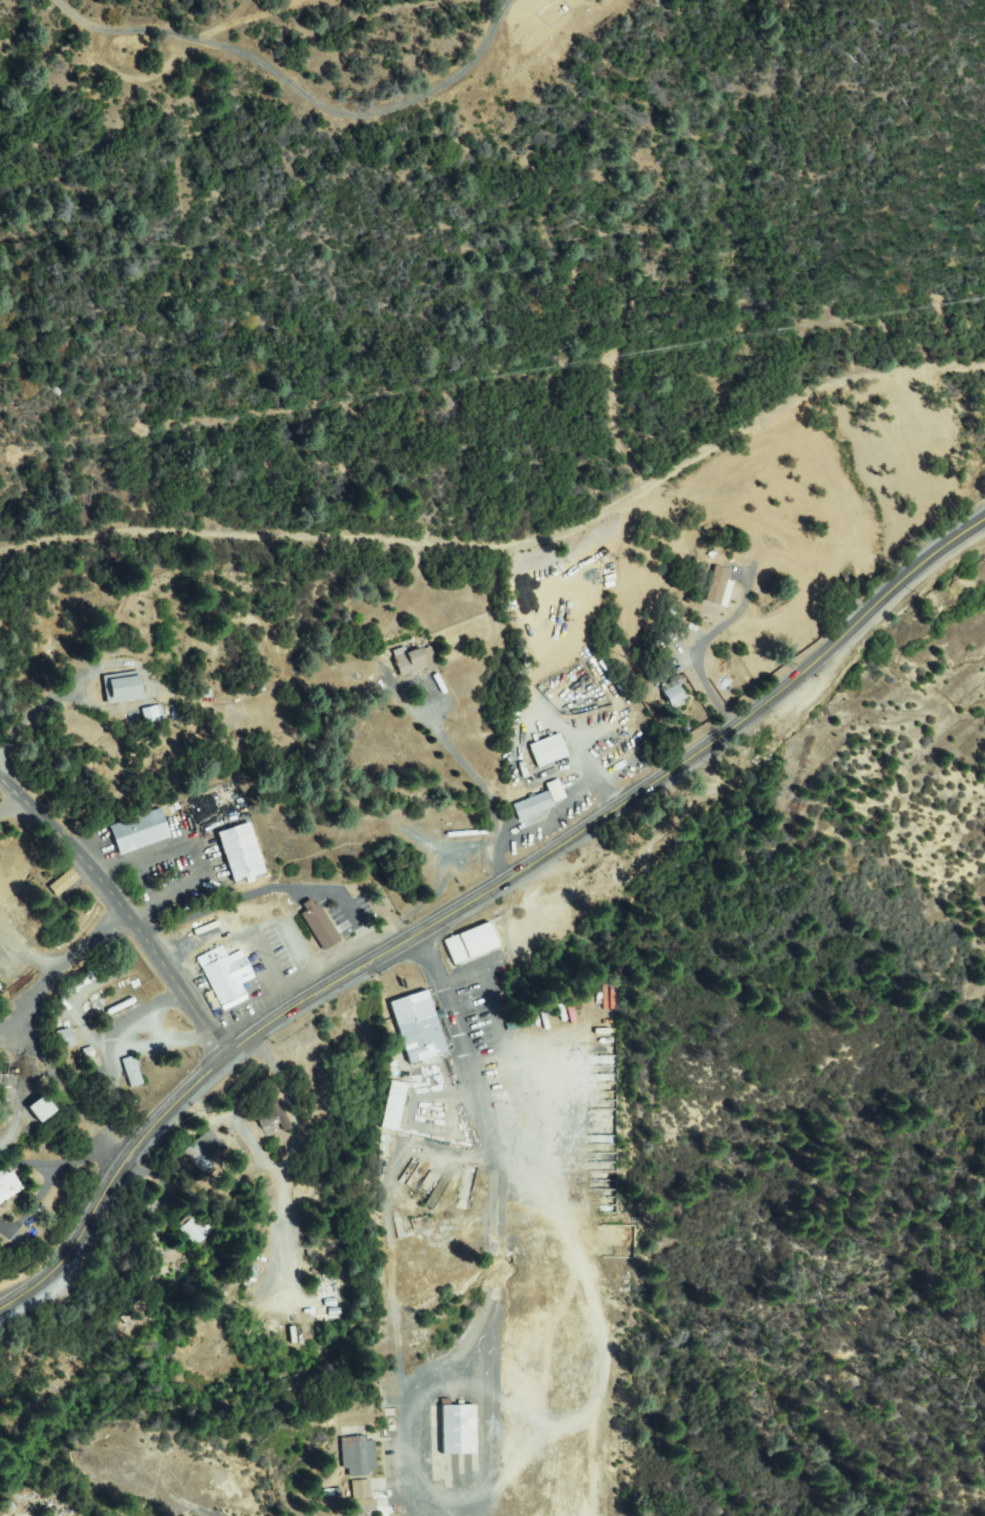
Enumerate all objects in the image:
road: (230, 28)
road: (511, 543)
road: (931, 556)
building: (719, 586)
building: (651, 600)
building: (681, 639)
road: (698, 643)
building: (373, 647)
building: (660, 651)
building: (414, 661)
building: (379, 662)
building: (370, 670)
building: (656, 671)
building: (122, 689)
building: (673, 693)
building: (152, 714)
building: (548, 751)
building: (526, 759)
building: (565, 786)
road: (481, 789)
road: (8, 791)
building: (533, 806)
building: (138, 832)
building: (466, 833)
building: (240, 853)
building: (63, 883)
road: (171, 896)
road: (122, 902)
building: (319, 926)
road: (420, 930)
building: (474, 944)
road: (59, 962)
building: (226, 979)
road: (436, 1007)
building: (418, 1027)
building: (65, 1040)
building: (132, 1072)
building: (123, 1073)
building: (393, 1106)
building: (381, 1107)
building: (42, 1108)
building: (31, 1110)
building: (274, 1114)
building: (206, 1150)
road: (68, 1151)
building: (6, 1171)
building: (600, 1185)
building: (6, 1188)
road: (31, 1194)
building: (195, 1230)
building: (611, 1242)
building: (458, 1429)
building: (359, 1457)
building: (361, 1496)

